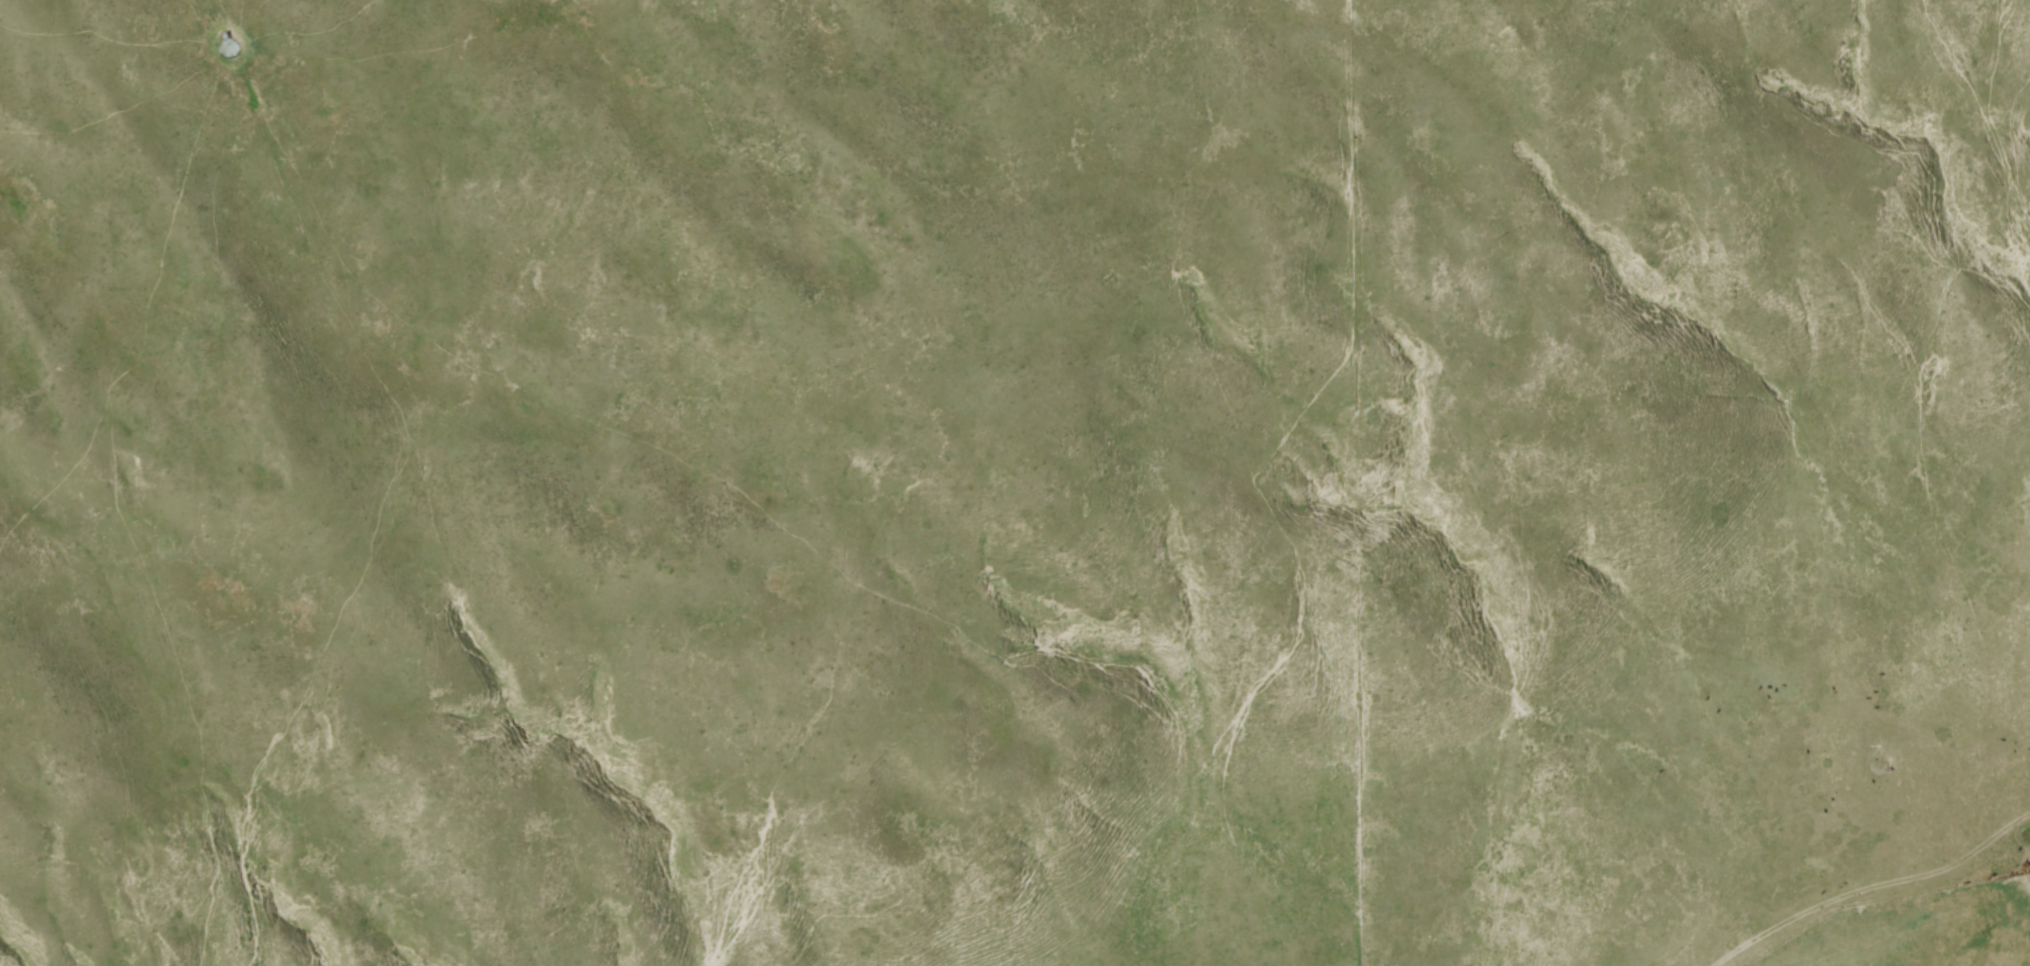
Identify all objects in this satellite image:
road: (1888, 890)

